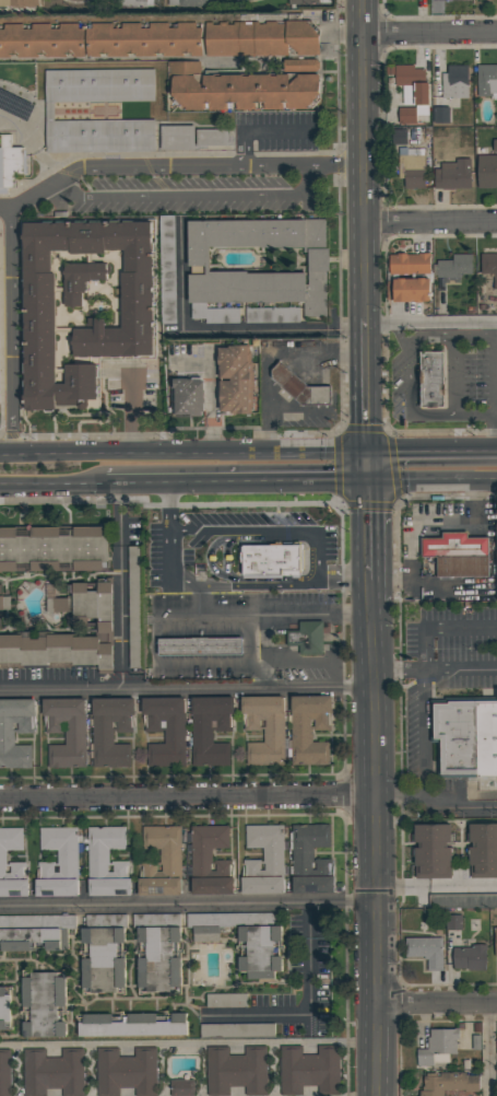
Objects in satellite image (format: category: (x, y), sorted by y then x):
building: (402, 0)
building: (454, 0)
building: (482, 0)
building: (306, 1)
building: (19, 3)
building: (133, 3)
building: (189, 3)
road: (358, 20)
road: (428, 38)
building: (262, 39)
building: (100, 40)
building: (301, 65)
building: (455, 81)
building: (487, 81)
building: (242, 91)
building: (412, 93)
building: (49, 110)
building: (441, 115)
road: (260, 131)
building: (212, 137)
building: (177, 138)
building: (10, 163)
building: (411, 170)
building: (487, 170)
building: (453, 174)
road: (360, 178)
road: (59, 180)
road: (187, 196)
road: (4, 208)
road: (429, 223)
building: (258, 263)
building: (410, 263)
building: (489, 266)
building: (454, 267)
building: (167, 269)
building: (81, 280)
building: (38, 285)
building: (409, 290)
building: (272, 315)
road: (431, 327)
road: (221, 331)
road: (474, 336)
road: (496, 351)
road: (269, 359)
building: (431, 378)
building: (236, 380)
road: (369, 386)
building: (187, 397)
road: (449, 412)
road: (474, 418)
road: (186, 456)
road: (435, 456)
traffic signals: (374, 457)
road: (374, 469)
road: (238, 481)
traffic signals: (375, 481)
road: (436, 481)
road: (51, 483)
road: (169, 506)
road: (422, 523)
road: (262, 530)
road: (375, 534)
building: (52, 549)
building: (458, 555)
road: (169, 560)
building: (271, 560)
road: (346, 573)
road: (120, 585)
road: (252, 586)
building: (86, 602)
building: (134, 607)
road: (287, 615)
building: (105, 629)
building: (306, 638)
building: (199, 646)
building: (56, 651)
road: (286, 662)
road: (436, 669)
road: (188, 686)
road: (423, 716)
building: (165, 730)
building: (210, 730)
building: (264, 730)
building: (309, 730)
building: (15, 732)
building: (67, 732)
building: (111, 732)
building: (465, 738)
road: (189, 794)
road: (400, 796)
road: (378, 798)
building: (309, 849)
building: (433, 851)
building: (483, 851)
building: (264, 861)
building: (107, 862)
building: (162, 862)
building: (58, 863)
building: (312, 885)
building: (212, 886)
road: (462, 887)
road: (402, 888)
road: (189, 908)
building: (244, 919)
building: (453, 922)
building: (208, 925)
building: (35, 932)
building: (496, 944)
building: (426, 951)
building: (260, 952)
building: (470, 958)
building: (103, 960)
building: (158, 960)
building: (226, 1000)
building: (45, 1005)
building: (4, 1007)
road: (438, 1008)
road: (308, 1010)
building: (132, 1026)
road: (379, 1026)
building: (237, 1029)
road: (189, 1042)
building: (439, 1048)
road: (488, 1052)
road: (379, 1070)
building: (236, 1071)
building: (310, 1071)
building: (127, 1072)
building: (4, 1073)
building: (54, 1073)
building: (448, 1083)
building: (182, 1087)

